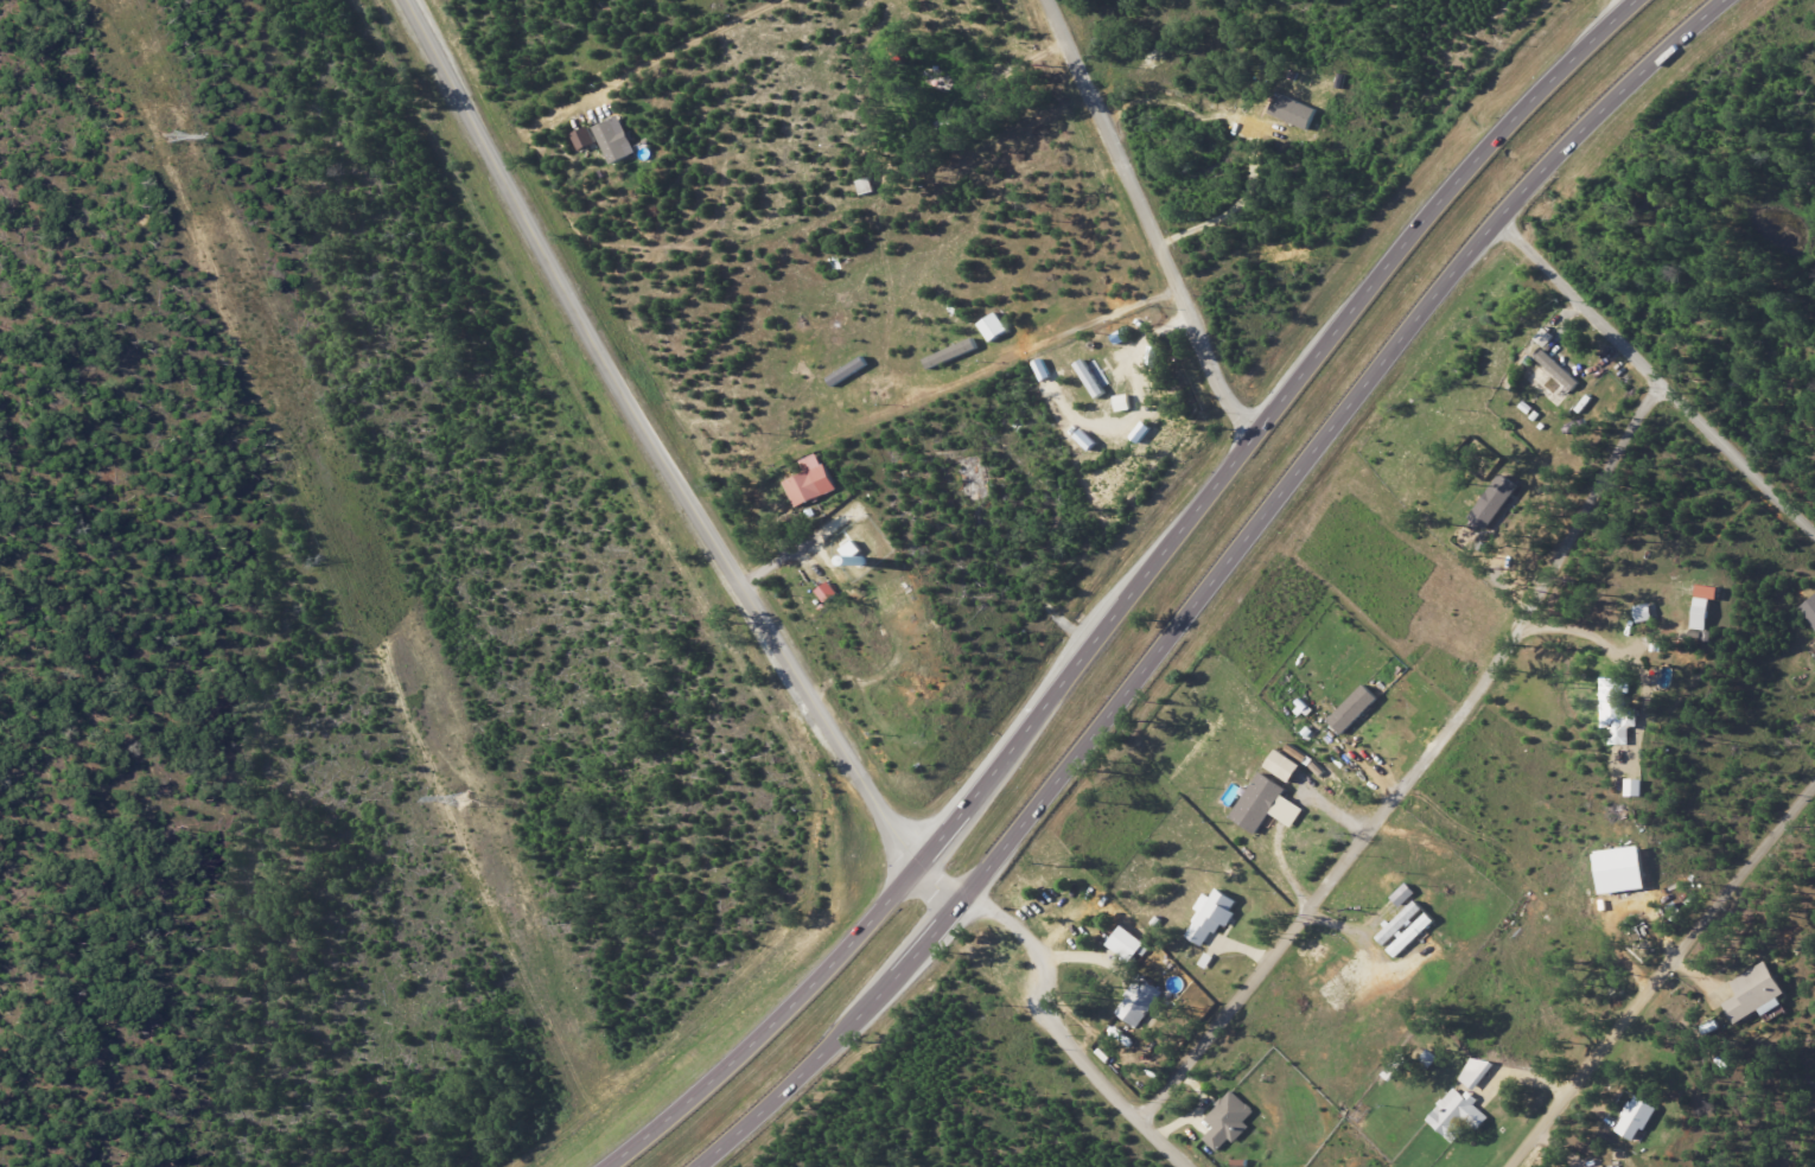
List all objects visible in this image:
road: (1624, 5)
road: (712, 52)
road: (1021, 77)
building: (1293, 111)
power tower: (167, 135)
building: (584, 138)
building: (614, 140)
road: (1147, 219)
road: (1235, 221)
road: (1104, 318)
building: (993, 326)
building: (1545, 338)
building: (950, 353)
building: (1089, 378)
road: (1652, 378)
building: (1122, 402)
road: (1136, 409)
building: (1140, 432)
road: (665, 463)
building: (807, 480)
building: (1494, 502)
road: (797, 548)
road: (1211, 583)
building: (822, 592)
road: (1134, 592)
building: (1698, 605)
building: (1809, 610)
building: (1638, 612)
road: (1575, 644)
building: (1352, 709)
building: (1615, 710)
building: (1281, 766)
road: (1420, 766)
building: (1633, 787)
power tower: (464, 799)
building: (1265, 805)
building: (1618, 869)
building: (1403, 894)
building: (1211, 918)
building: (1405, 929)
building: (1126, 944)
road: (1661, 976)
building: (1756, 988)
building: (1139, 1002)
road: (1068, 1032)
building: (1473, 1072)
building: (1456, 1114)
building: (1633, 1117)
building: (1228, 1121)

